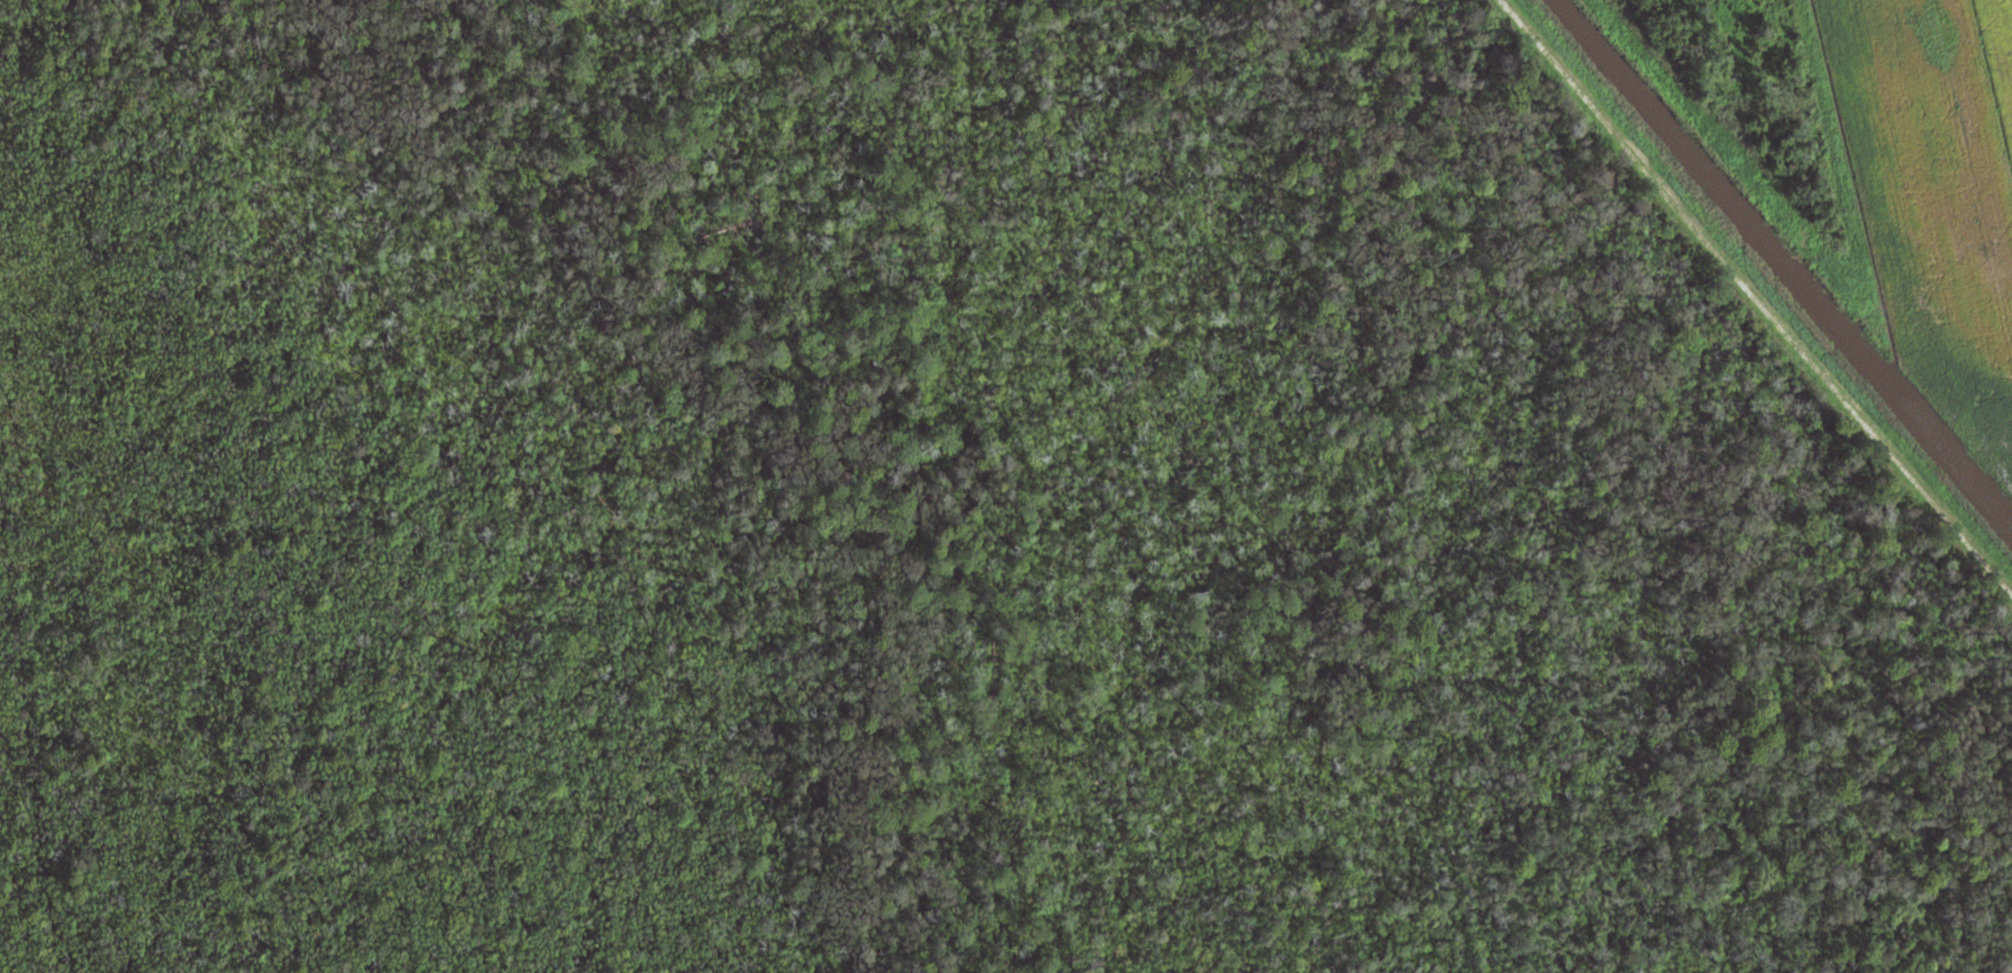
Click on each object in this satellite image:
crop: (1937, 193)
road: (1765, 267)

